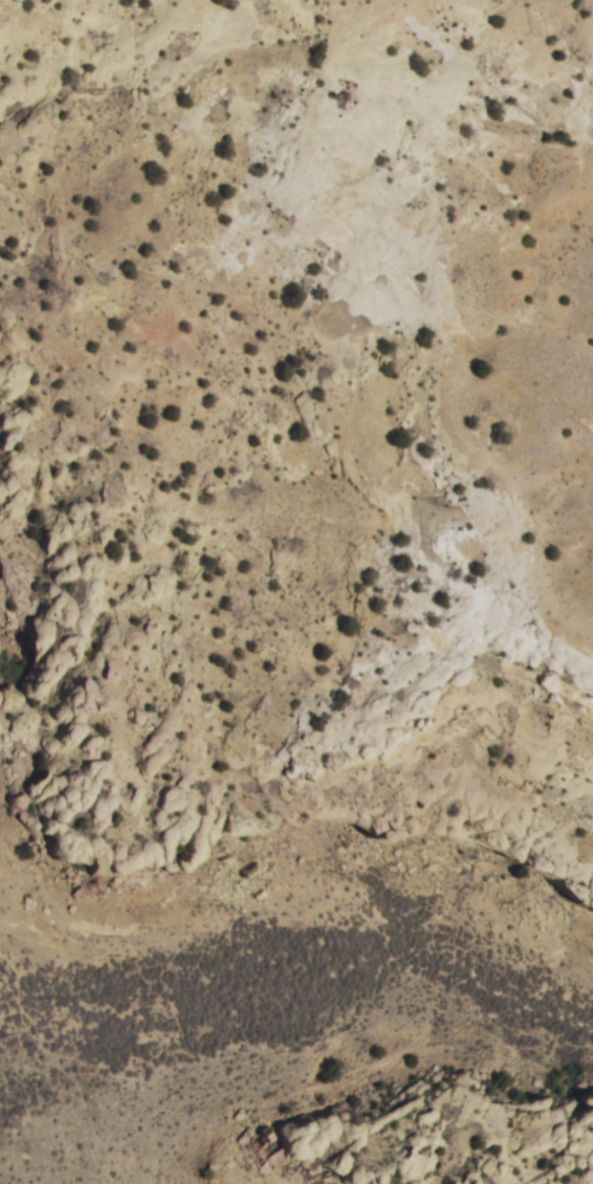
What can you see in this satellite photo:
road: (22, 1142)

